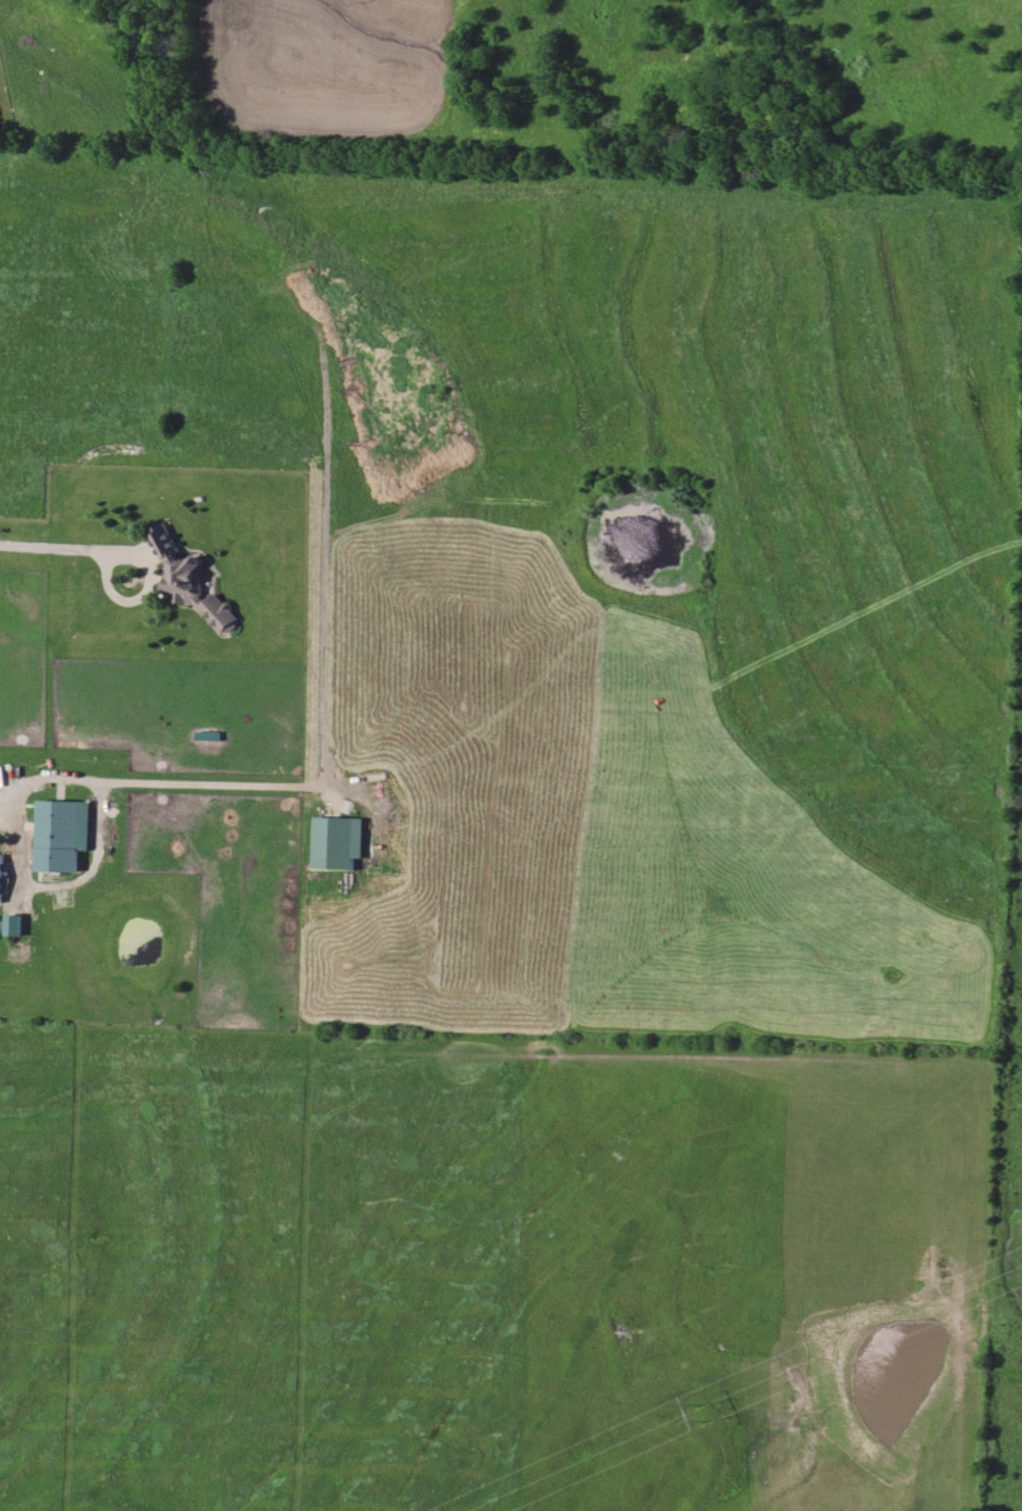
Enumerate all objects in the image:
road: (68, 550)
building: (193, 582)
road: (163, 786)
road: (19, 827)
building: (62, 834)
building: (340, 837)
building: (1, 876)
building: (13, 924)
power tower: (705, 1411)

